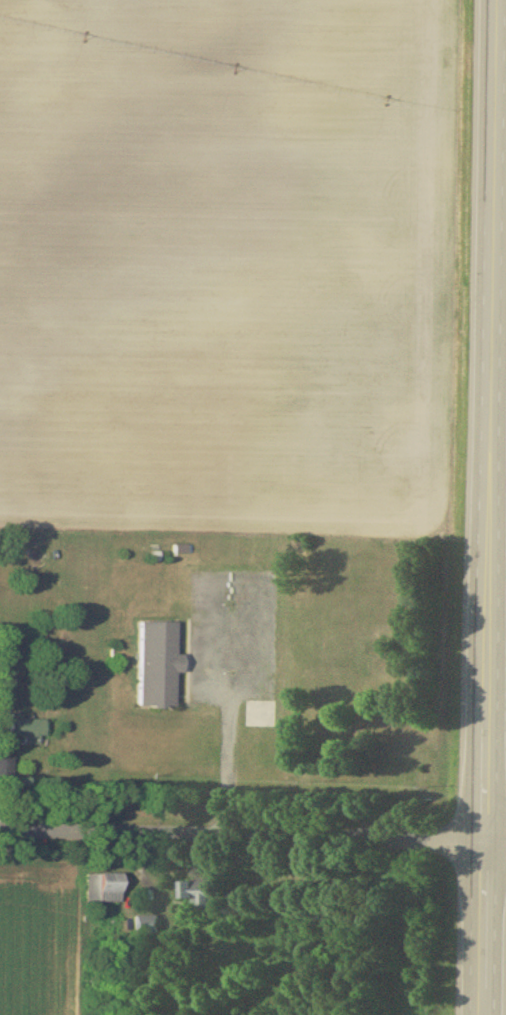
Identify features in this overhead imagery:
road: (486, 507)
road: (226, 732)
road: (253, 837)

